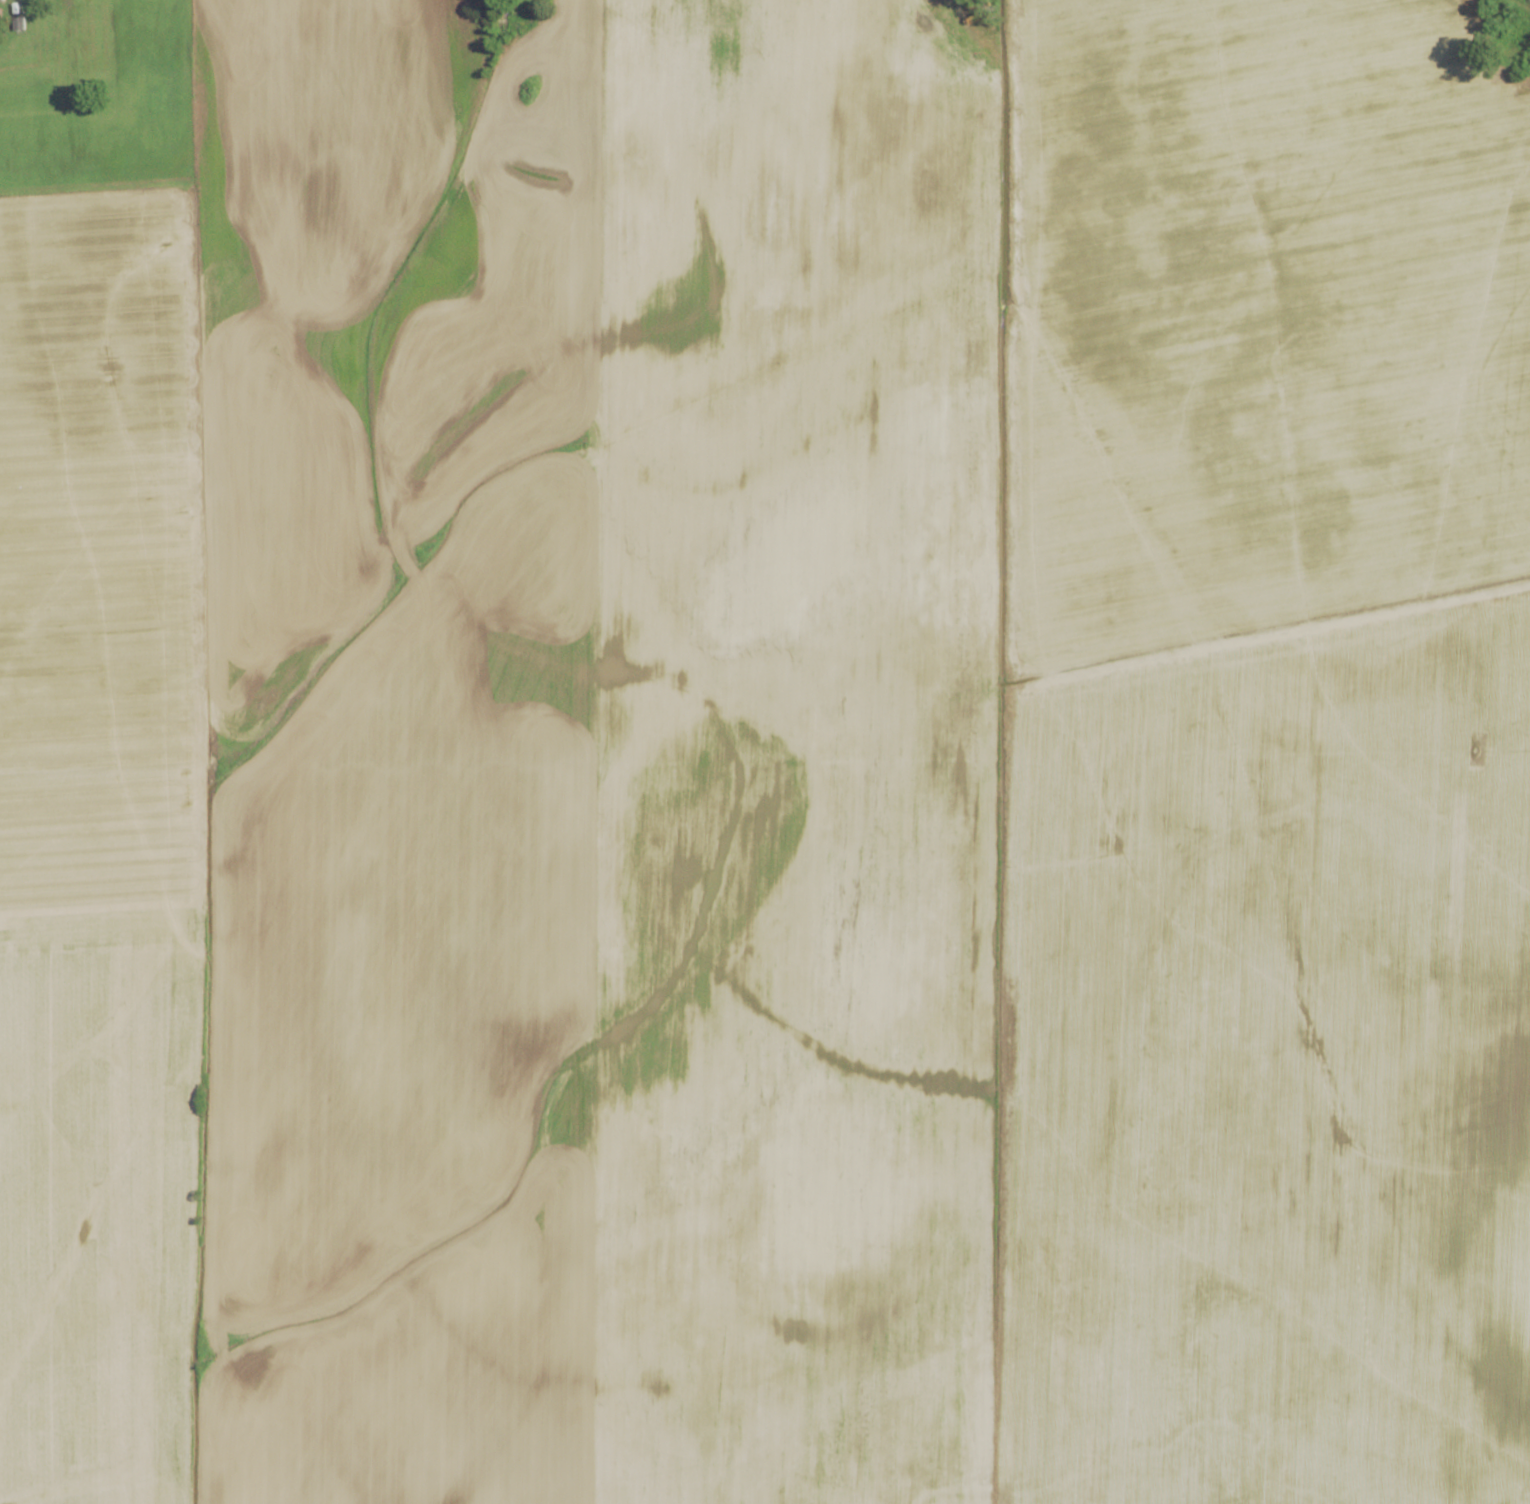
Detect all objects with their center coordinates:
building: (0, 1)
road: (14, 10)
road: (1274, 636)

